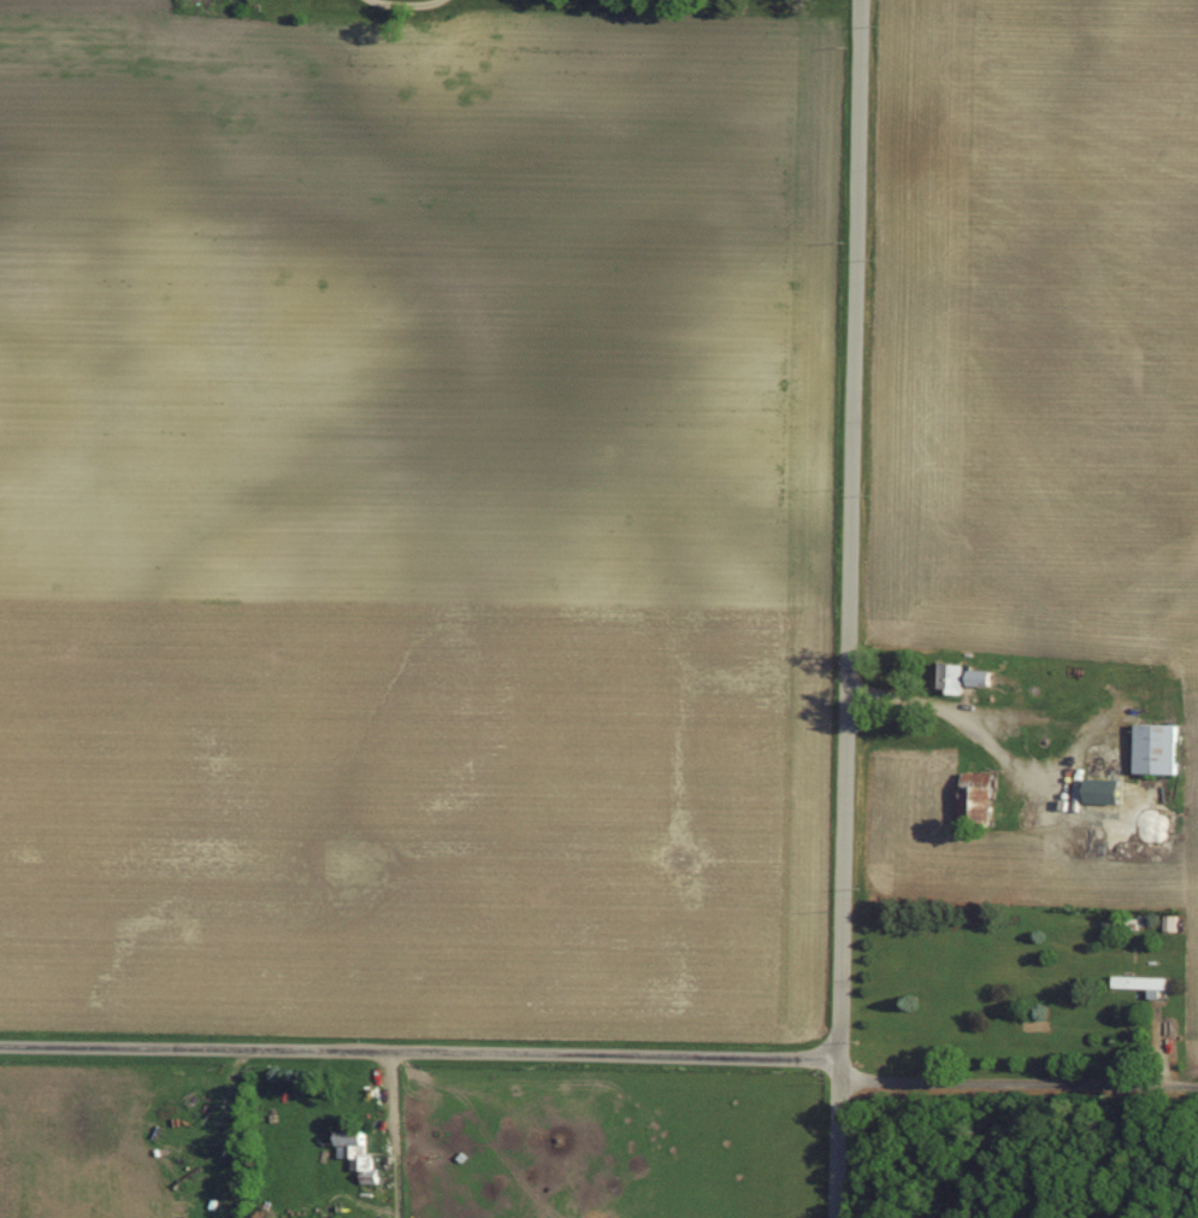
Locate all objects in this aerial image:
road: (848, 543)
building: (1161, 745)
building: (1109, 793)
building: (1172, 919)
building: (1144, 979)
road: (418, 1049)
road: (1016, 1088)
road: (393, 1134)
building: (359, 1149)
road: (833, 1152)

